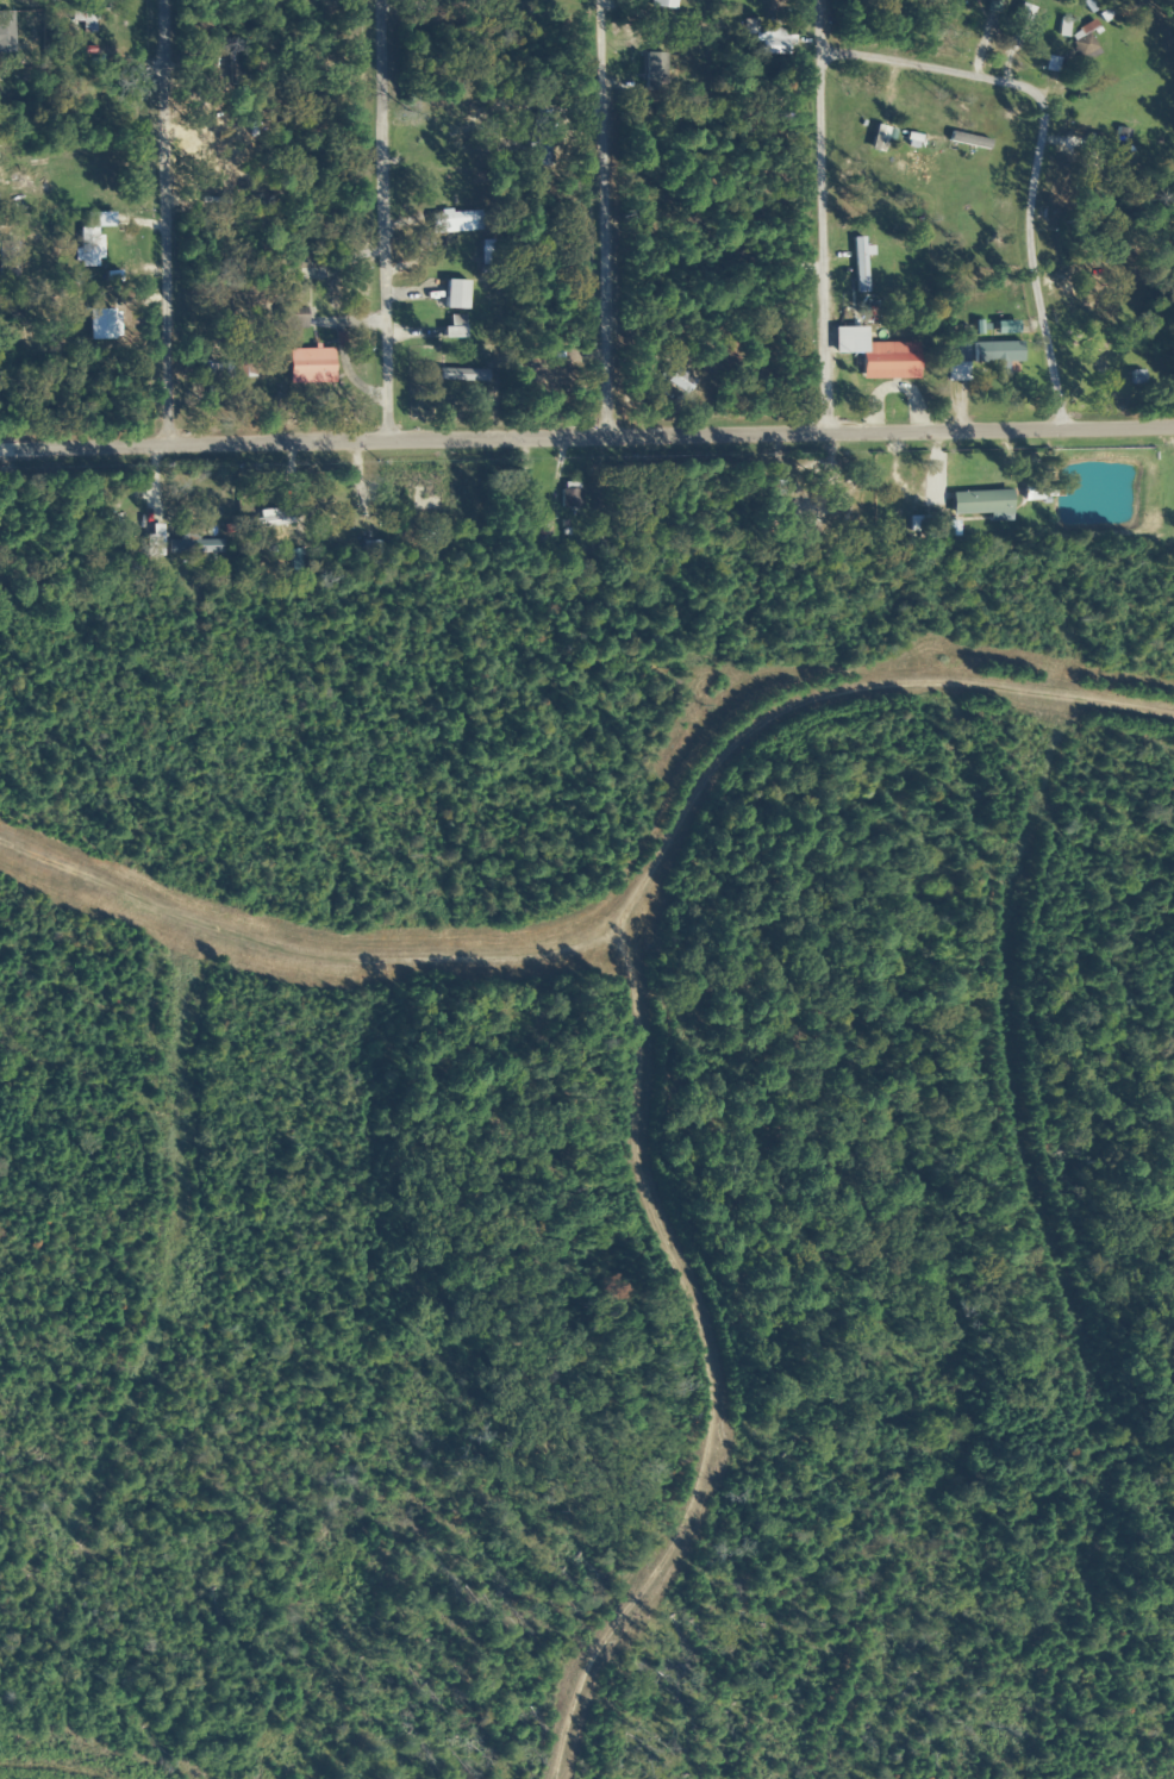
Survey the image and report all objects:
building: (667, 4)
building: (1018, 26)
building: (1062, 29)
building: (1085, 43)
building: (541, 138)
building: (1119, 149)
road: (1022, 161)
building: (88, 168)
building: (6, 173)
road: (582, 204)
road: (808, 204)
road: (149, 207)
road: (375, 207)
building: (454, 221)
building: (96, 232)
building: (14, 258)
building: (860, 266)
building: (300, 274)
building: (455, 294)
building: (292, 318)
building: (956, 352)
building: (995, 352)
building: (888, 360)
building: (310, 366)
building: (677, 381)
road: (587, 408)
building: (424, 492)
building: (569, 495)
building: (774, 495)
building: (980, 504)
building: (804, 513)
building: (269, 519)
building: (935, 528)
building: (192, 543)
building: (154, 545)

